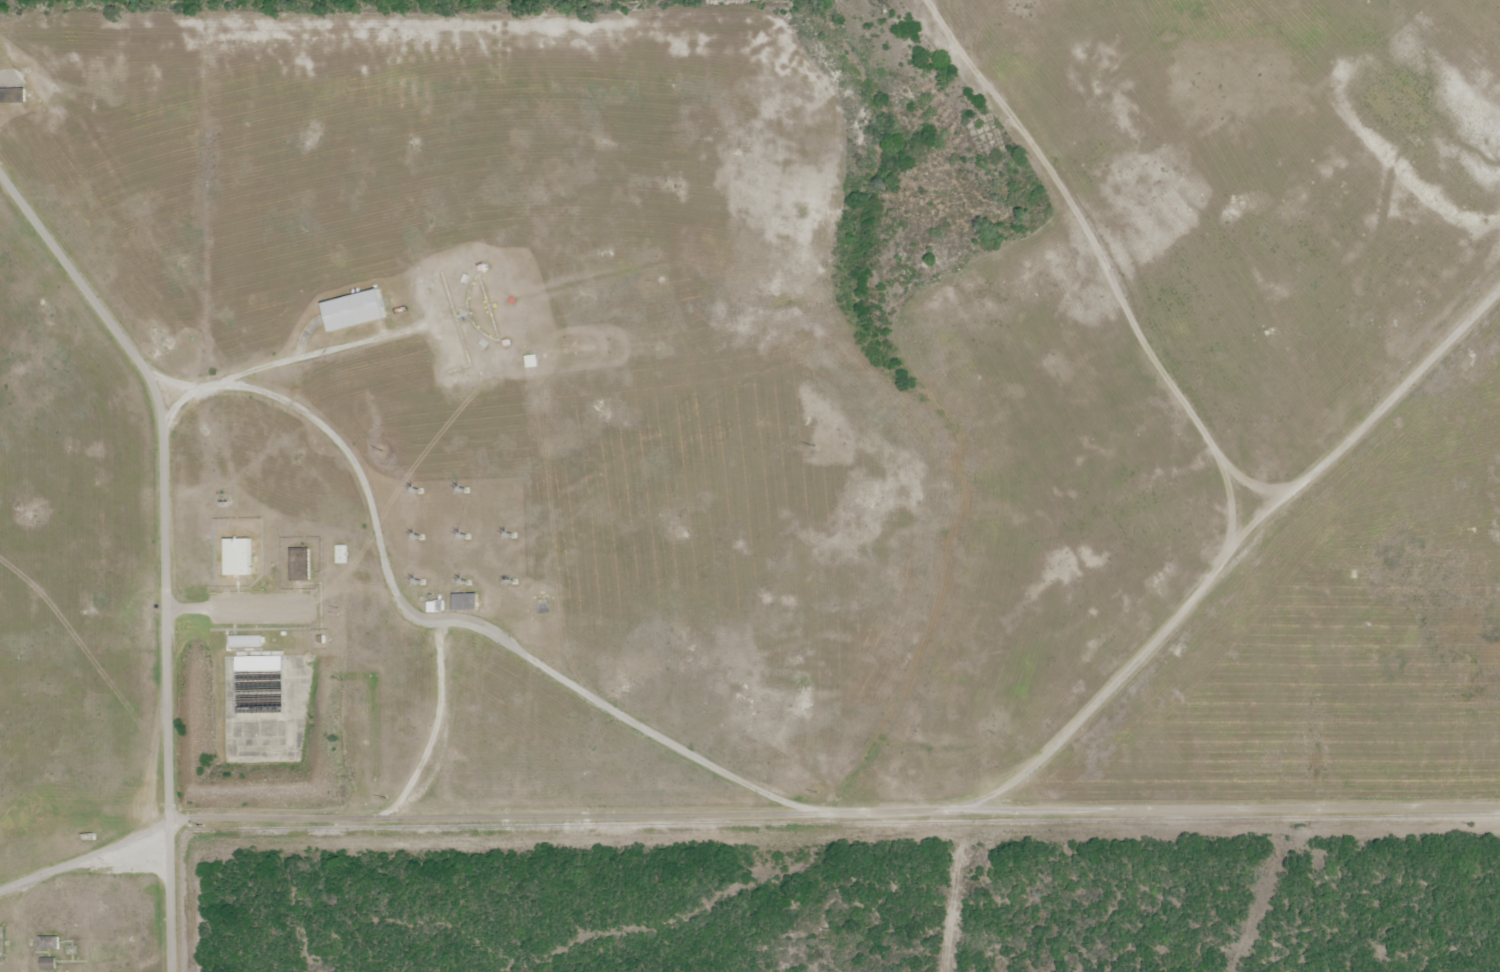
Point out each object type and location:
building: (356, 311)
road: (1317, 479)
road: (163, 547)
building: (342, 556)
building: (242, 558)
building: (304, 565)
building: (466, 602)
building: (434, 608)
building: (247, 642)
road: (537, 662)
building: (261, 687)
road: (678, 814)

